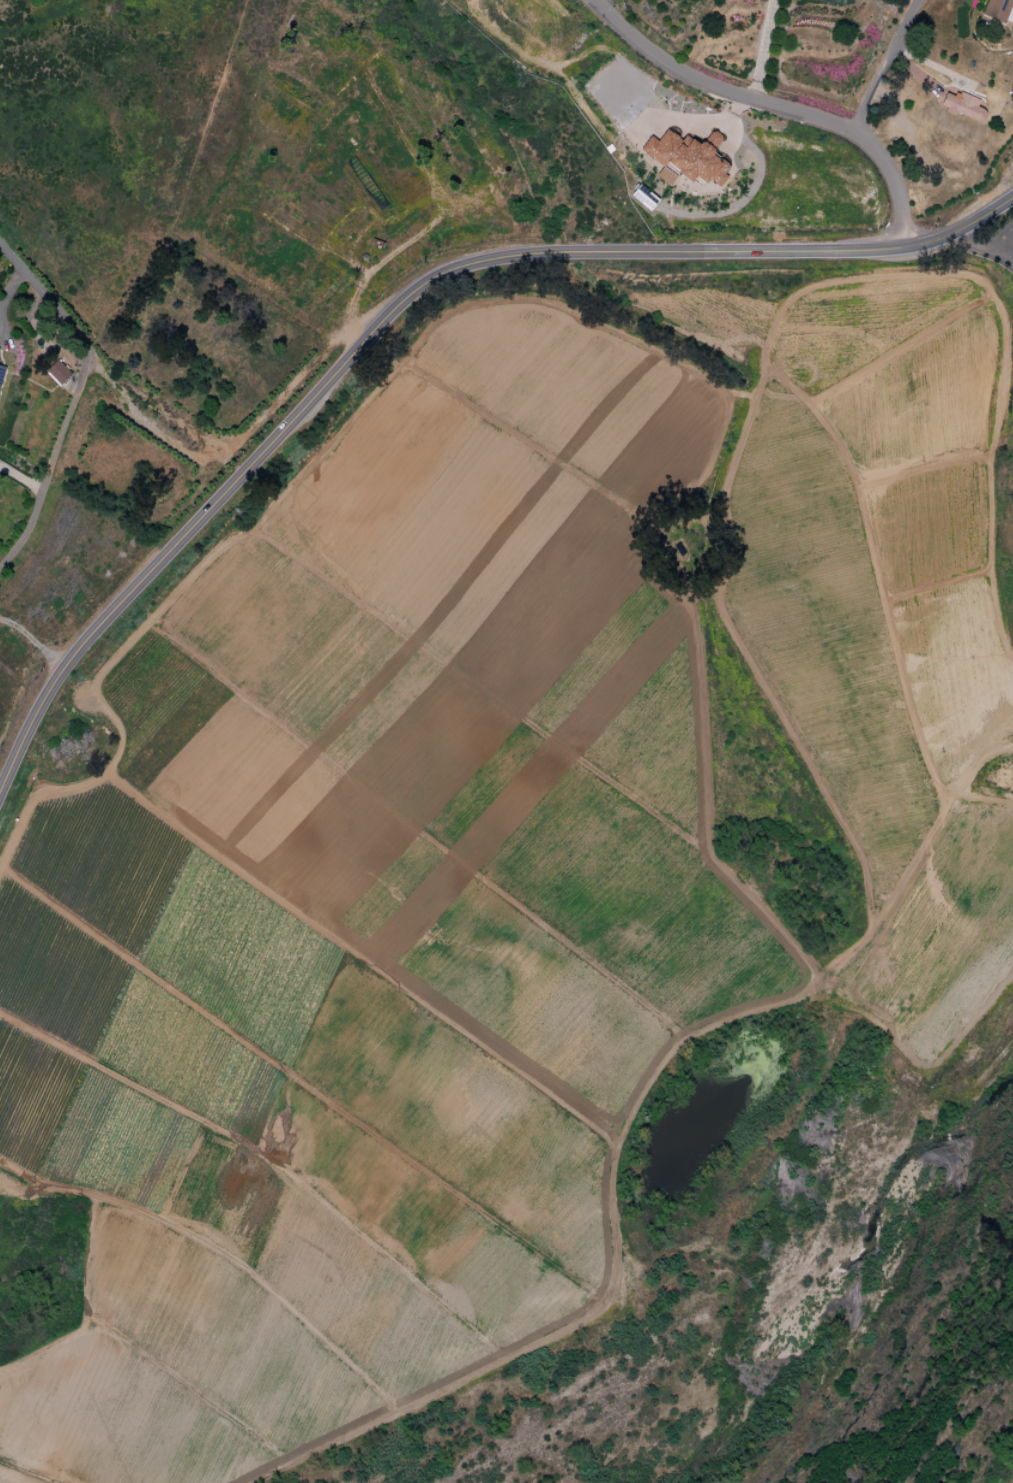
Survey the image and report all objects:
building: (999, 10)
road: (763, 48)
road: (883, 63)
road: (779, 103)
building: (962, 106)
building: (686, 158)
road: (1001, 183)
road: (982, 248)
road: (662, 252)
road: (10, 289)
road: (4, 340)
building: (1, 372)
building: (58, 372)
road: (75, 400)
road: (153, 566)
road: (10, 625)
road: (40, 650)
park: (751, 1294)
river: (925, 1377)

